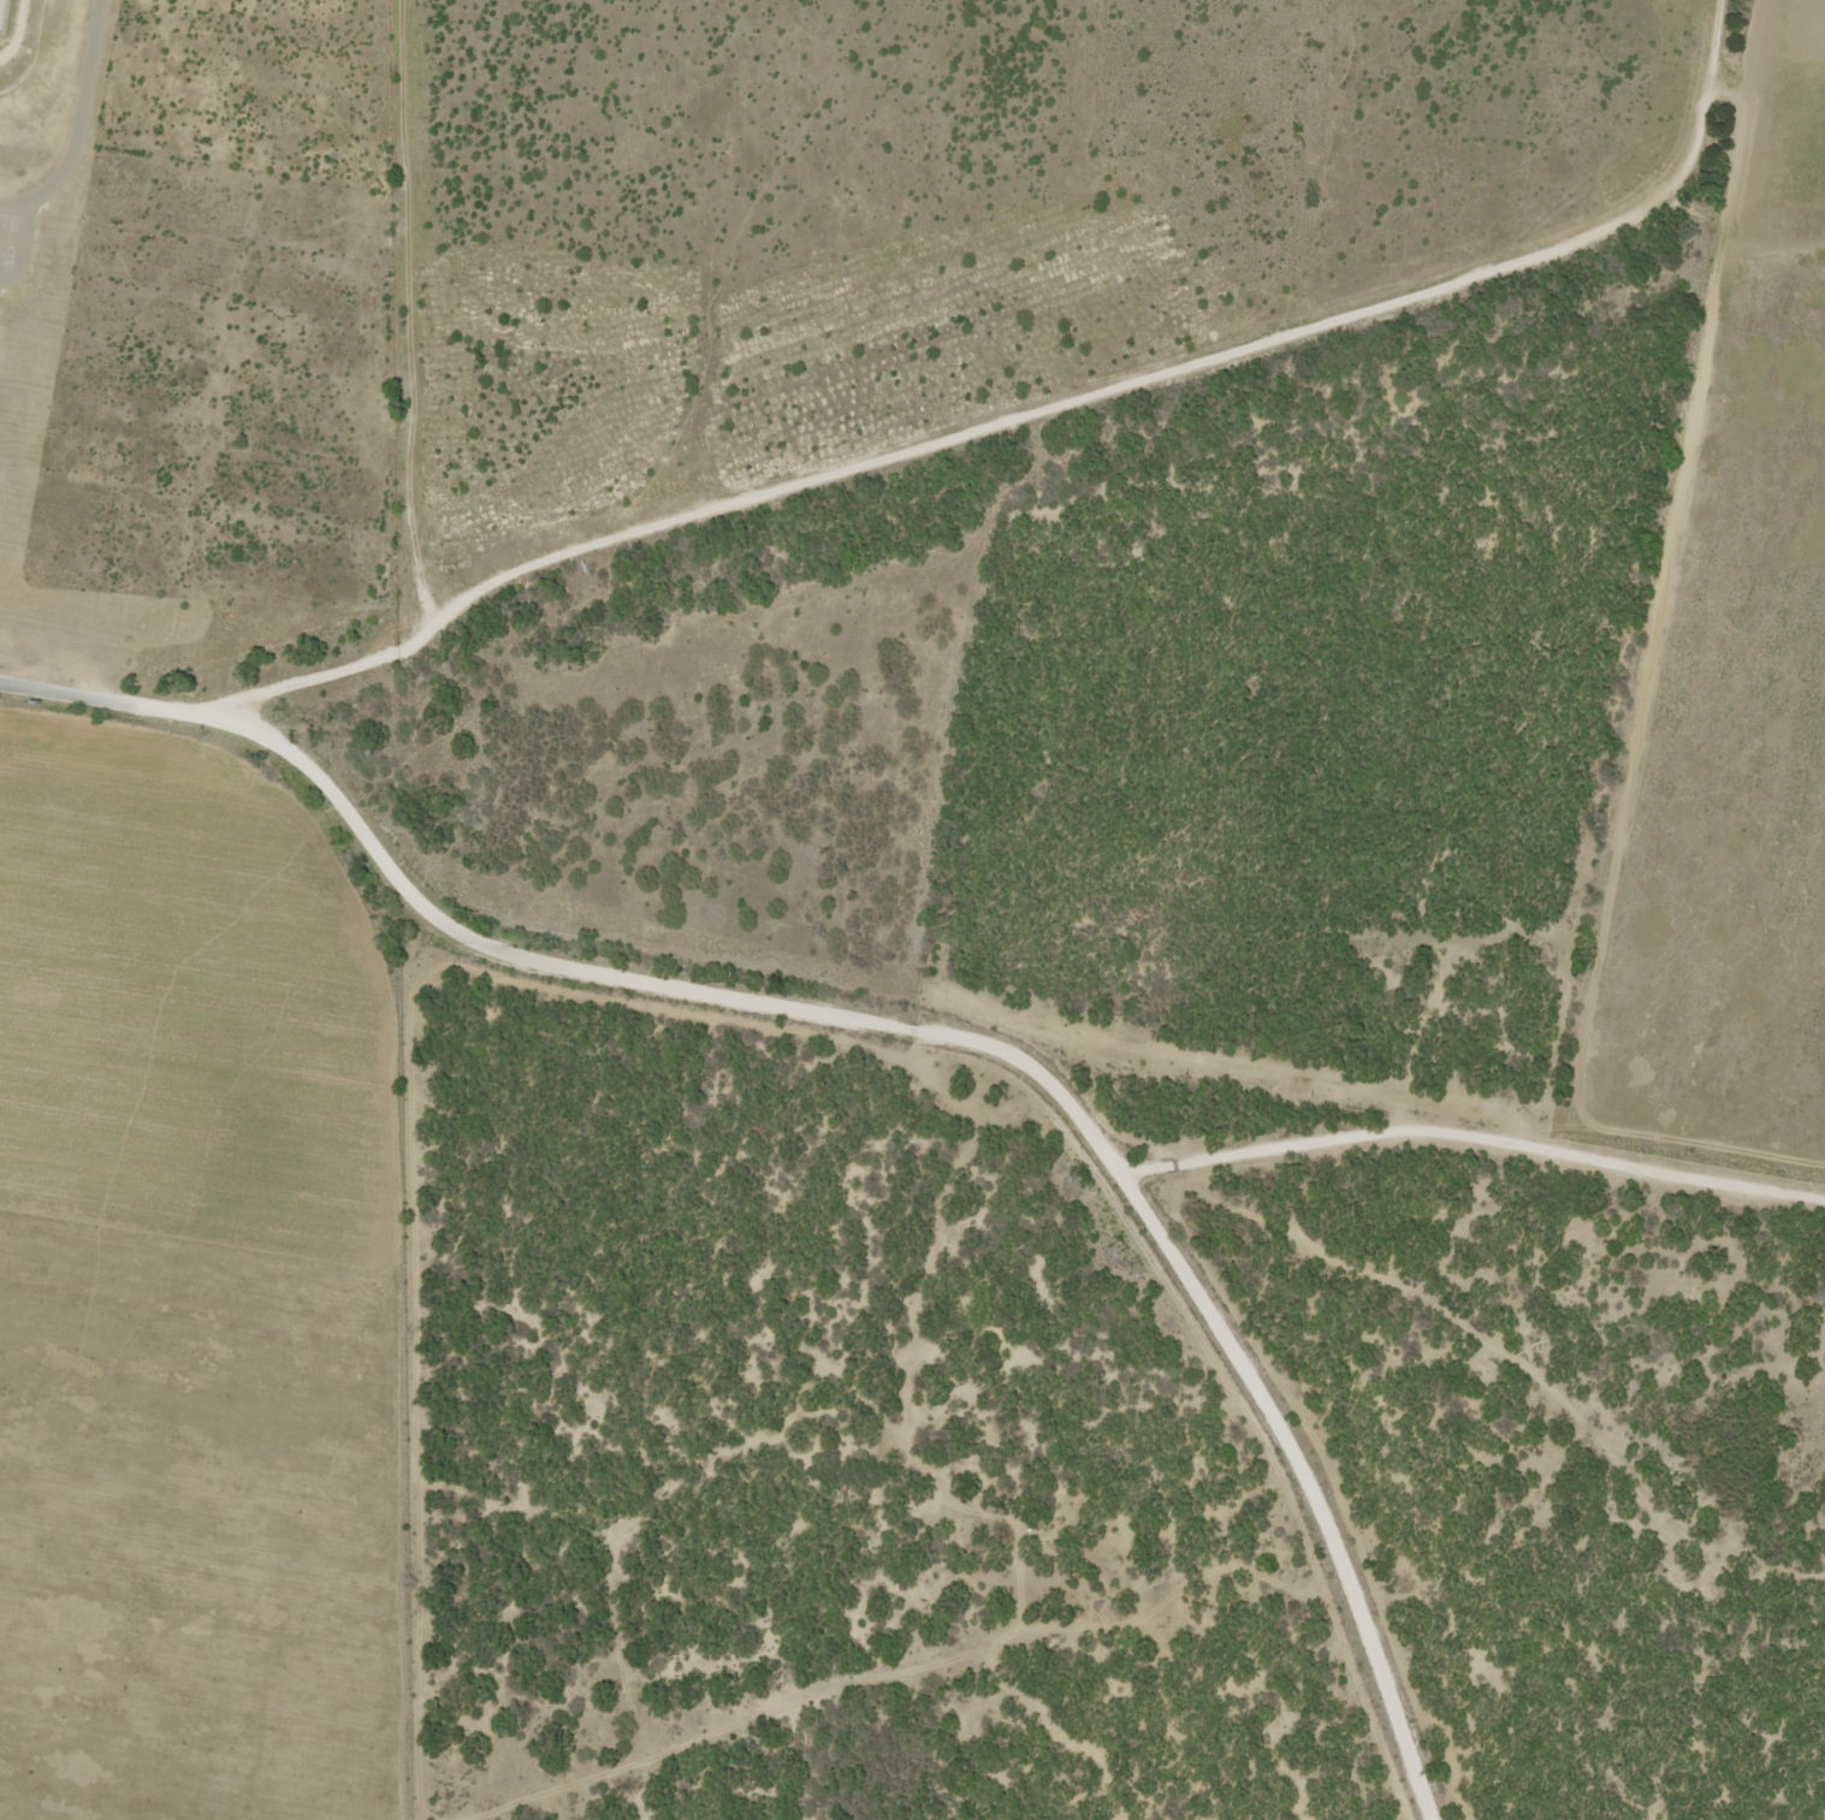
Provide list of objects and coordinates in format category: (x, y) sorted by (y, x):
road: (81, 112)
road: (1747, 125)
road: (11, 201)
road: (399, 286)
road: (989, 377)
road: (128, 443)
road: (51, 692)
road: (148, 705)
road: (995, 1048)
road: (1473, 1137)
road: (298, 1352)

